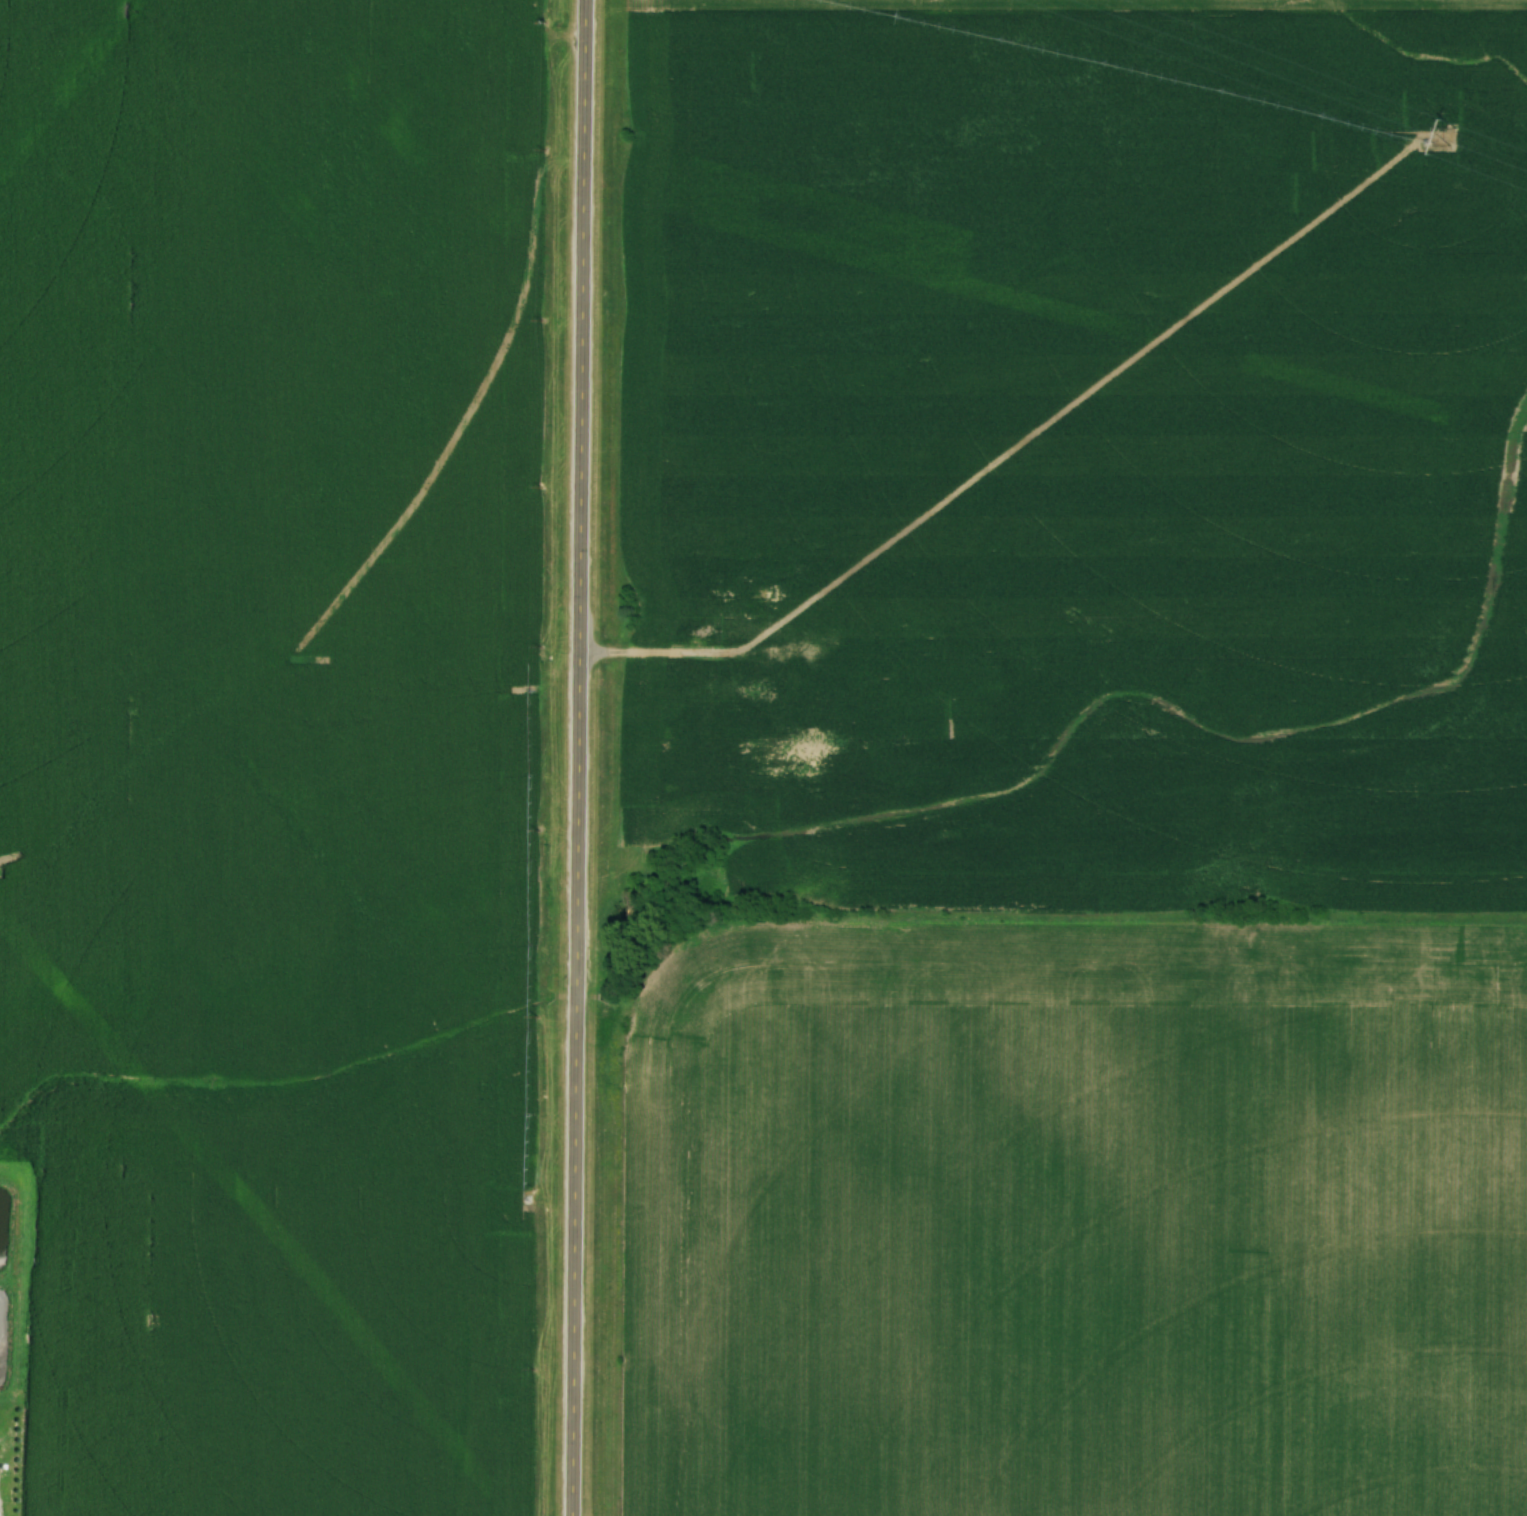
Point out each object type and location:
power tower: (1448, 139)
road: (694, 652)
road: (580, 757)

